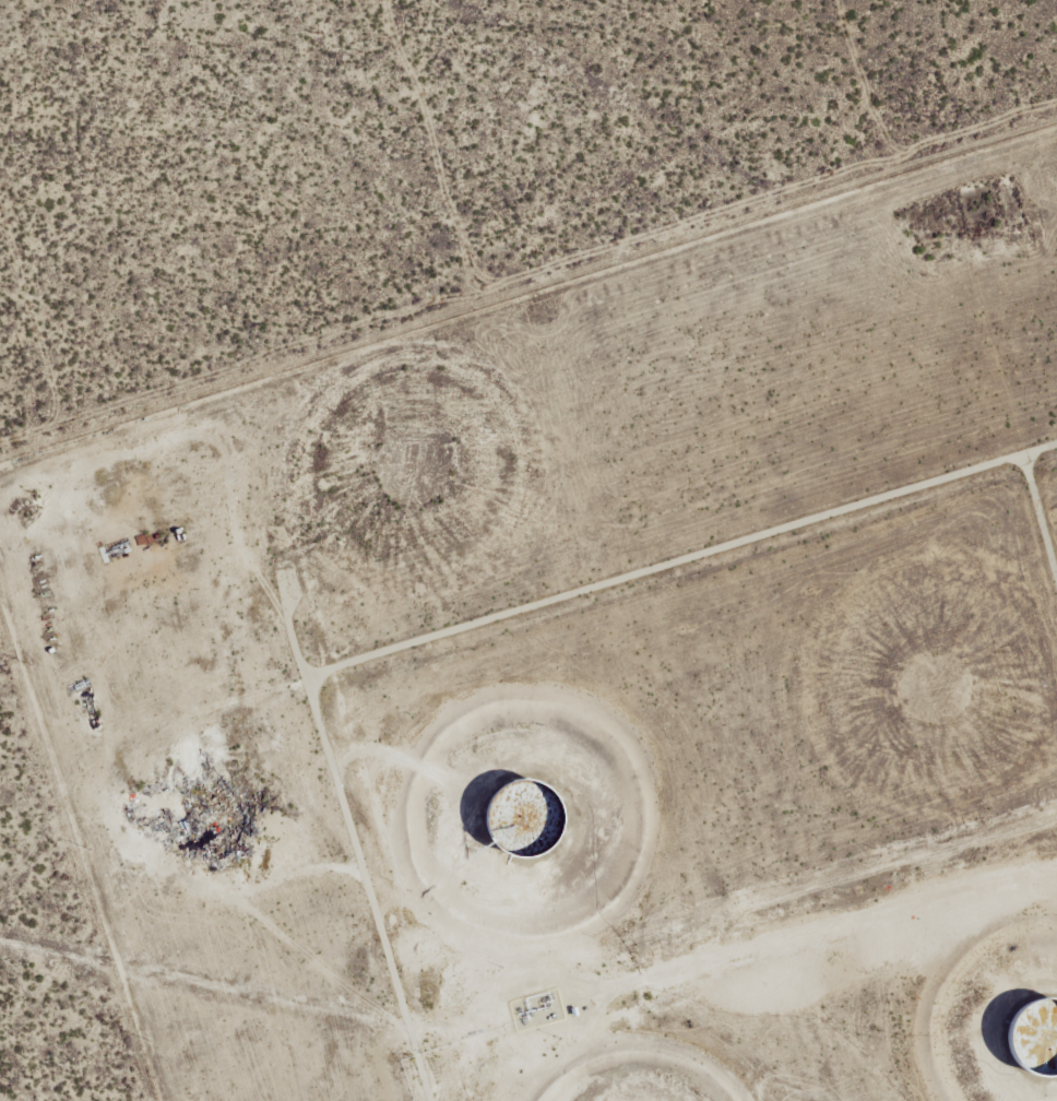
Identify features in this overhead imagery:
road: (1043, 534)
road: (516, 659)

